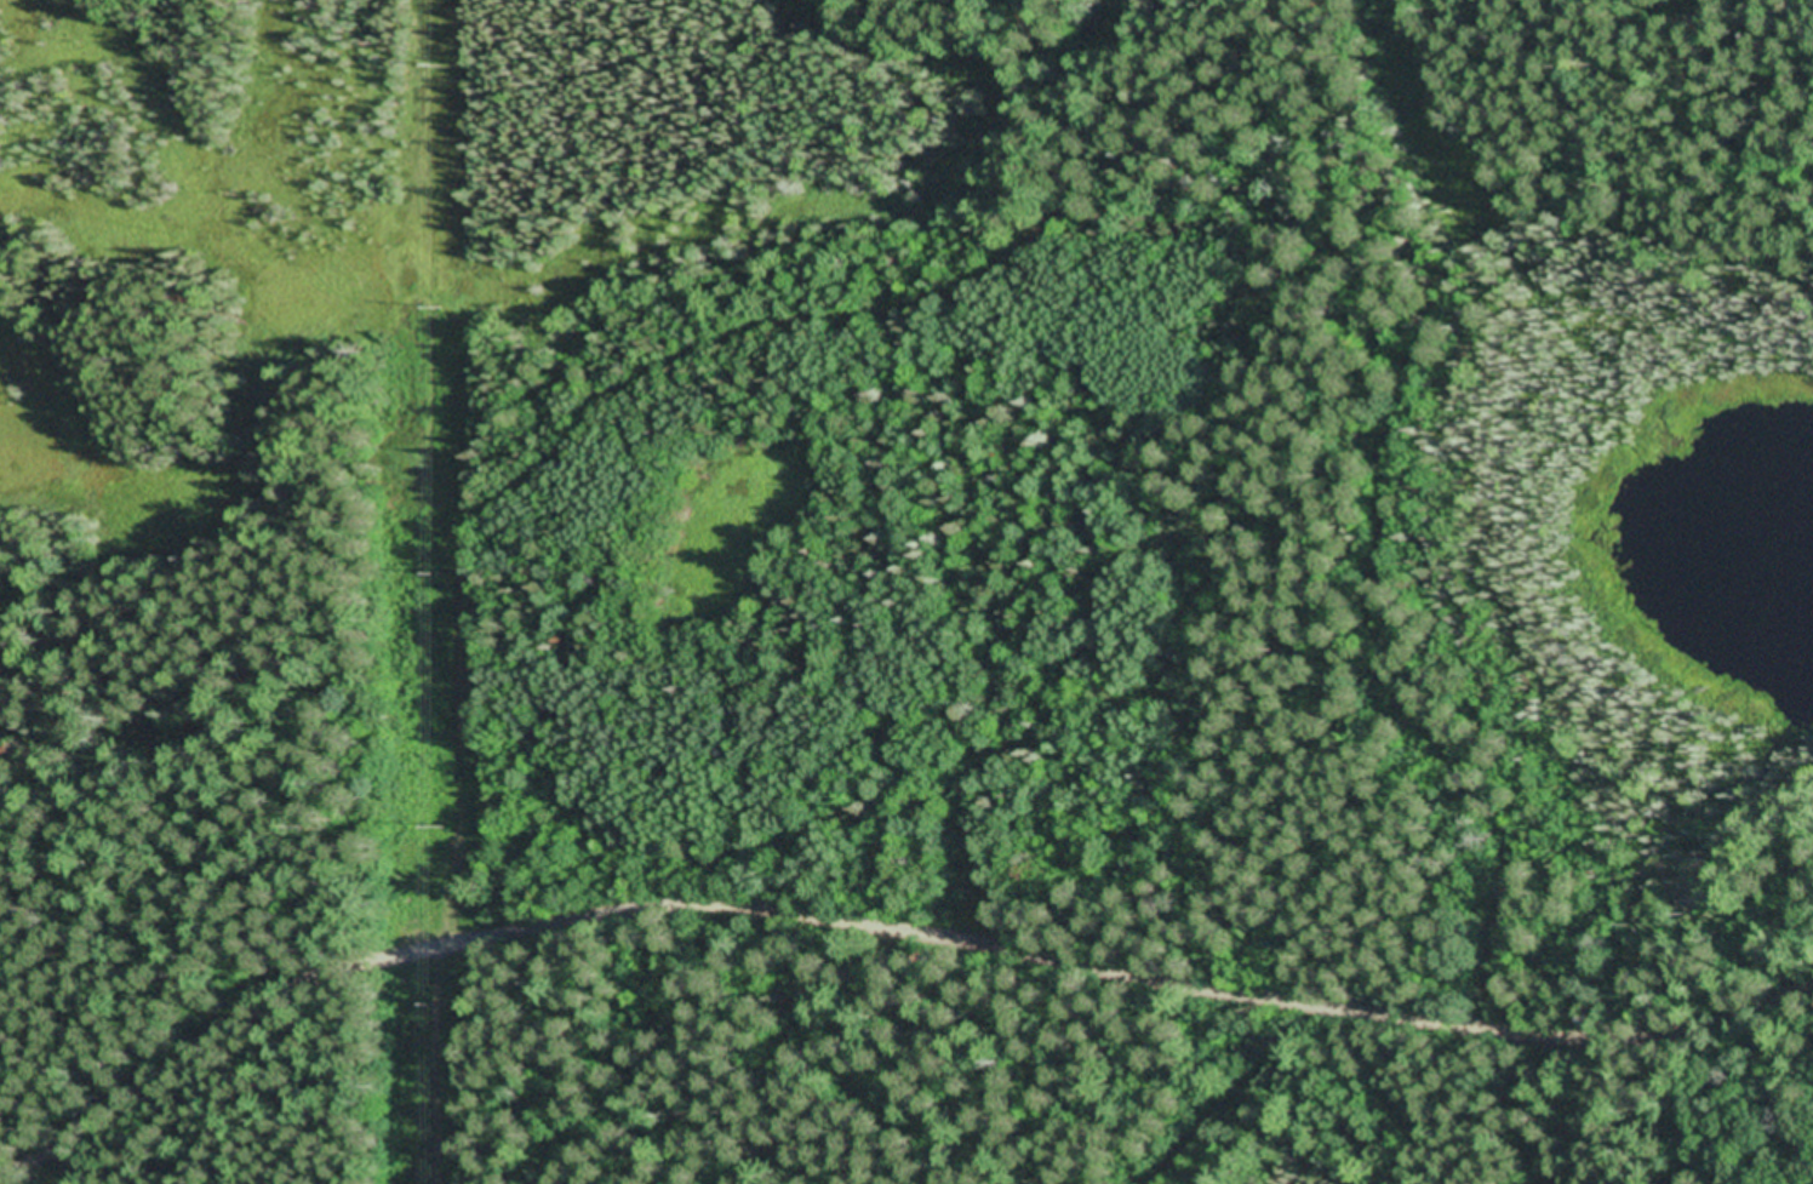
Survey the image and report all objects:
road: (881, 917)

